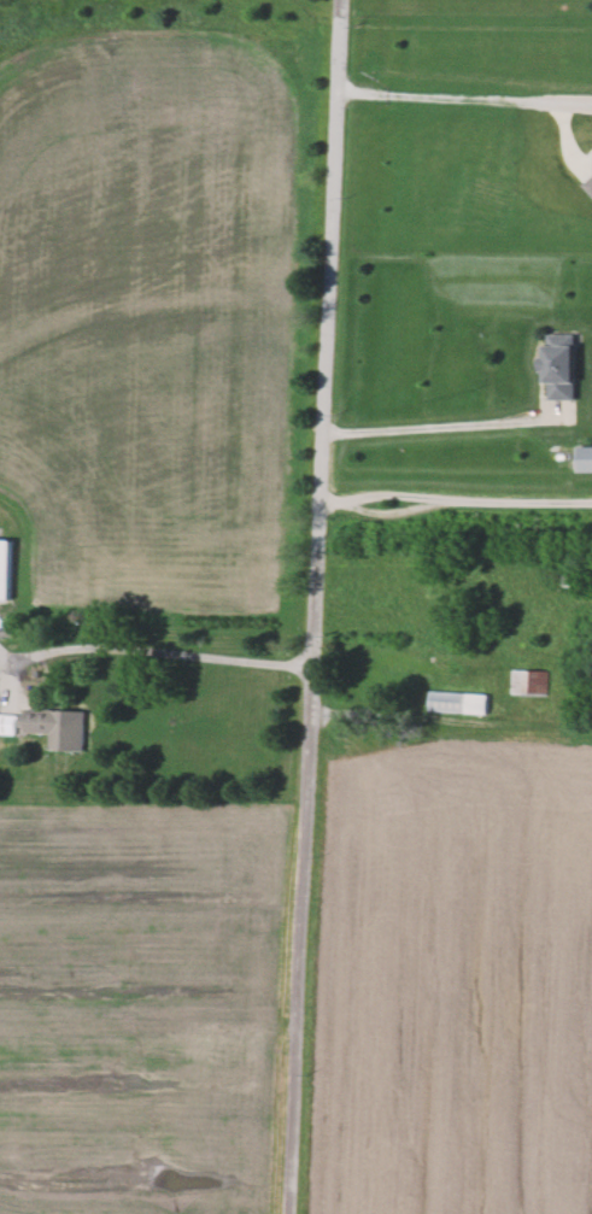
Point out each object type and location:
road: (464, 102)
building: (588, 186)
building: (561, 368)
road: (439, 426)
building: (584, 459)
road: (455, 500)
building: (5, 569)
road: (315, 606)
road: (140, 650)
building: (529, 682)
building: (458, 703)
building: (49, 727)
crop: (148, 1008)

